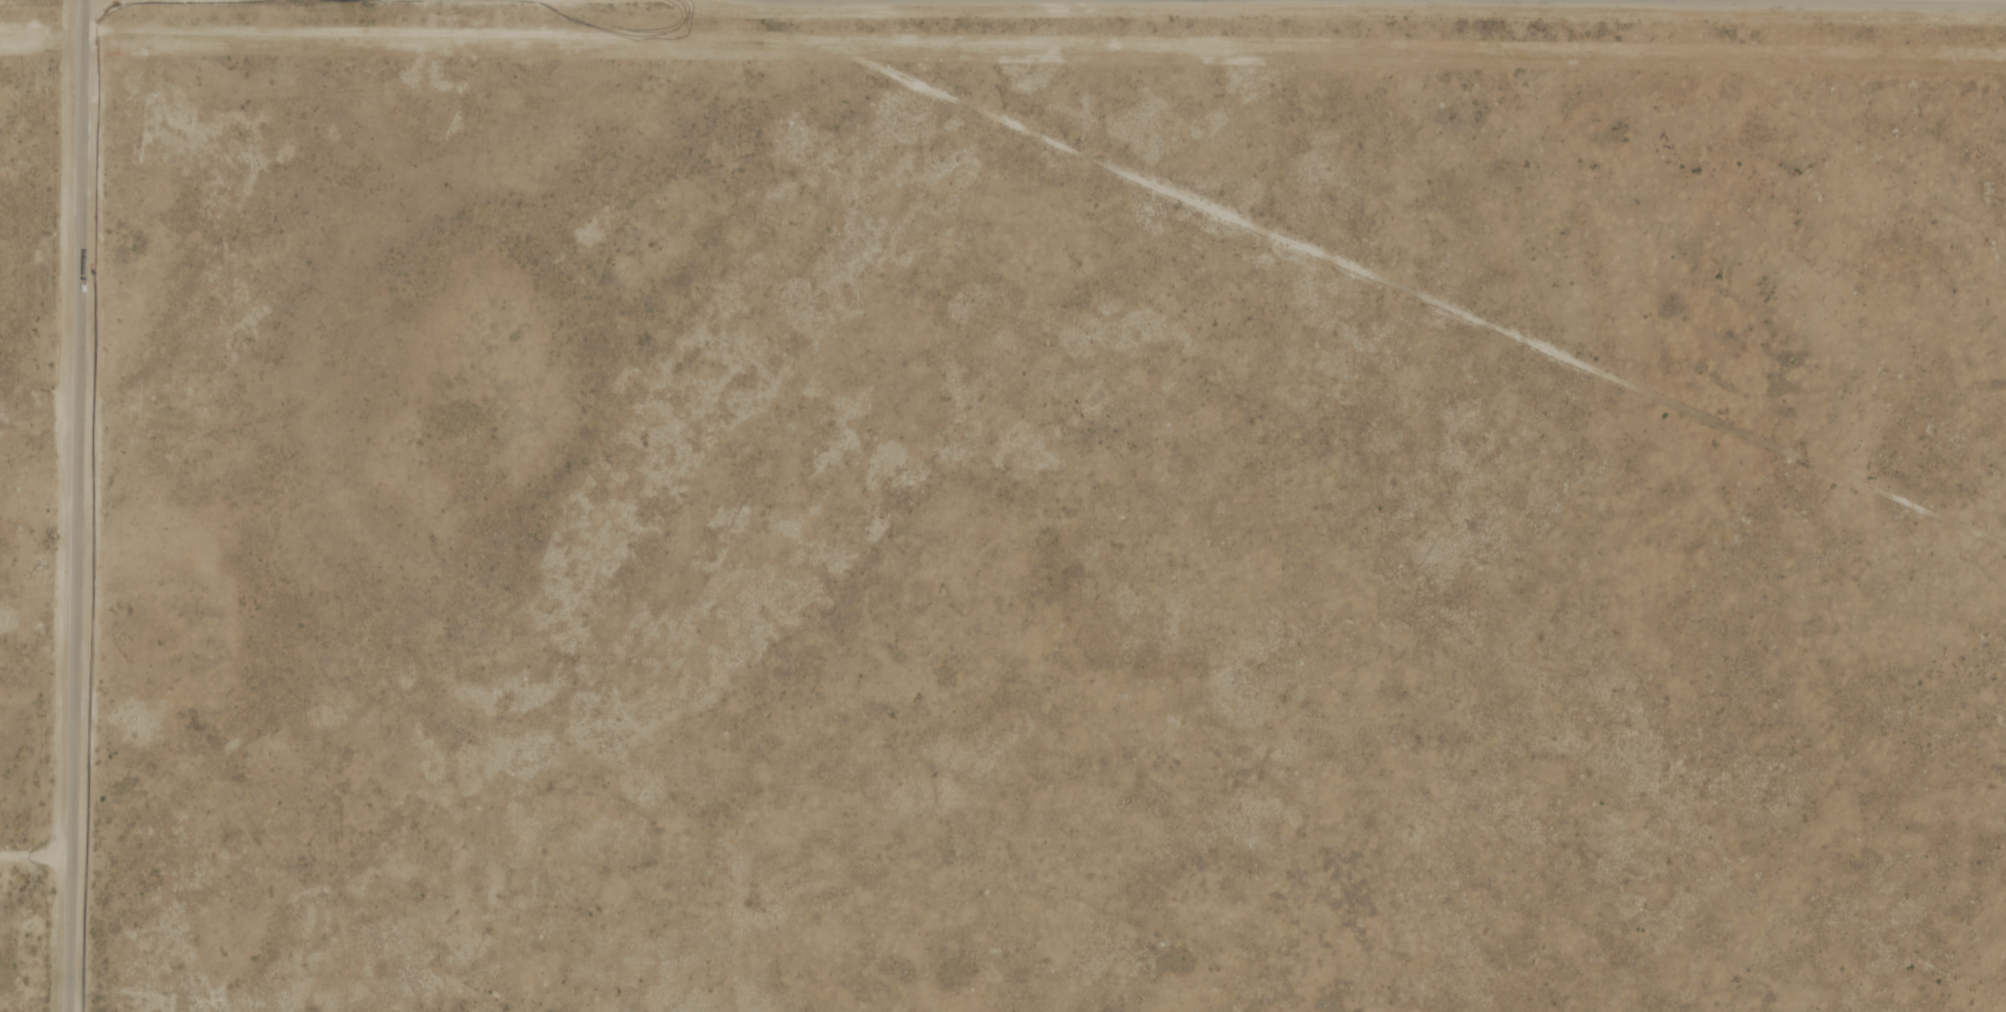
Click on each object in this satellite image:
road: (419, 3)
road: (1203, 3)
road: (1377, 7)
road: (76, 506)

